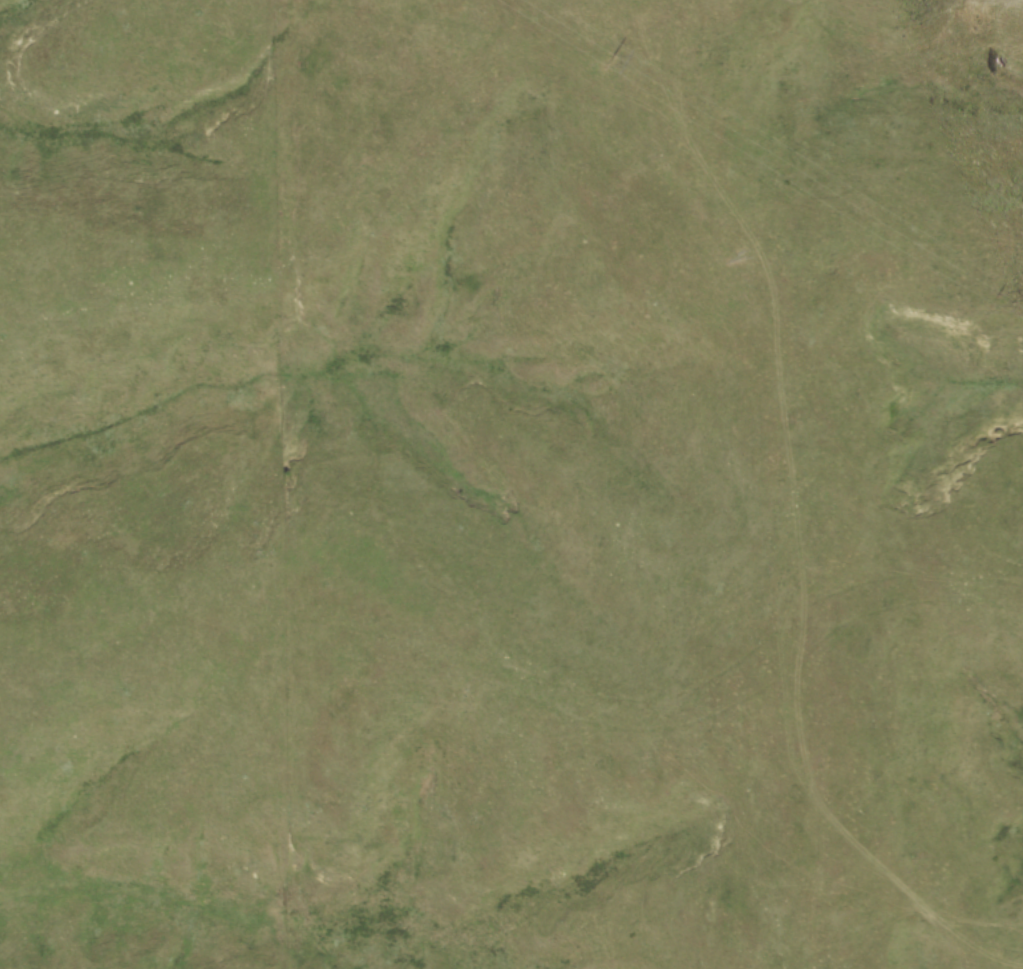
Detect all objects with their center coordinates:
power tower: (605, 61)
power tower: (992, 300)

